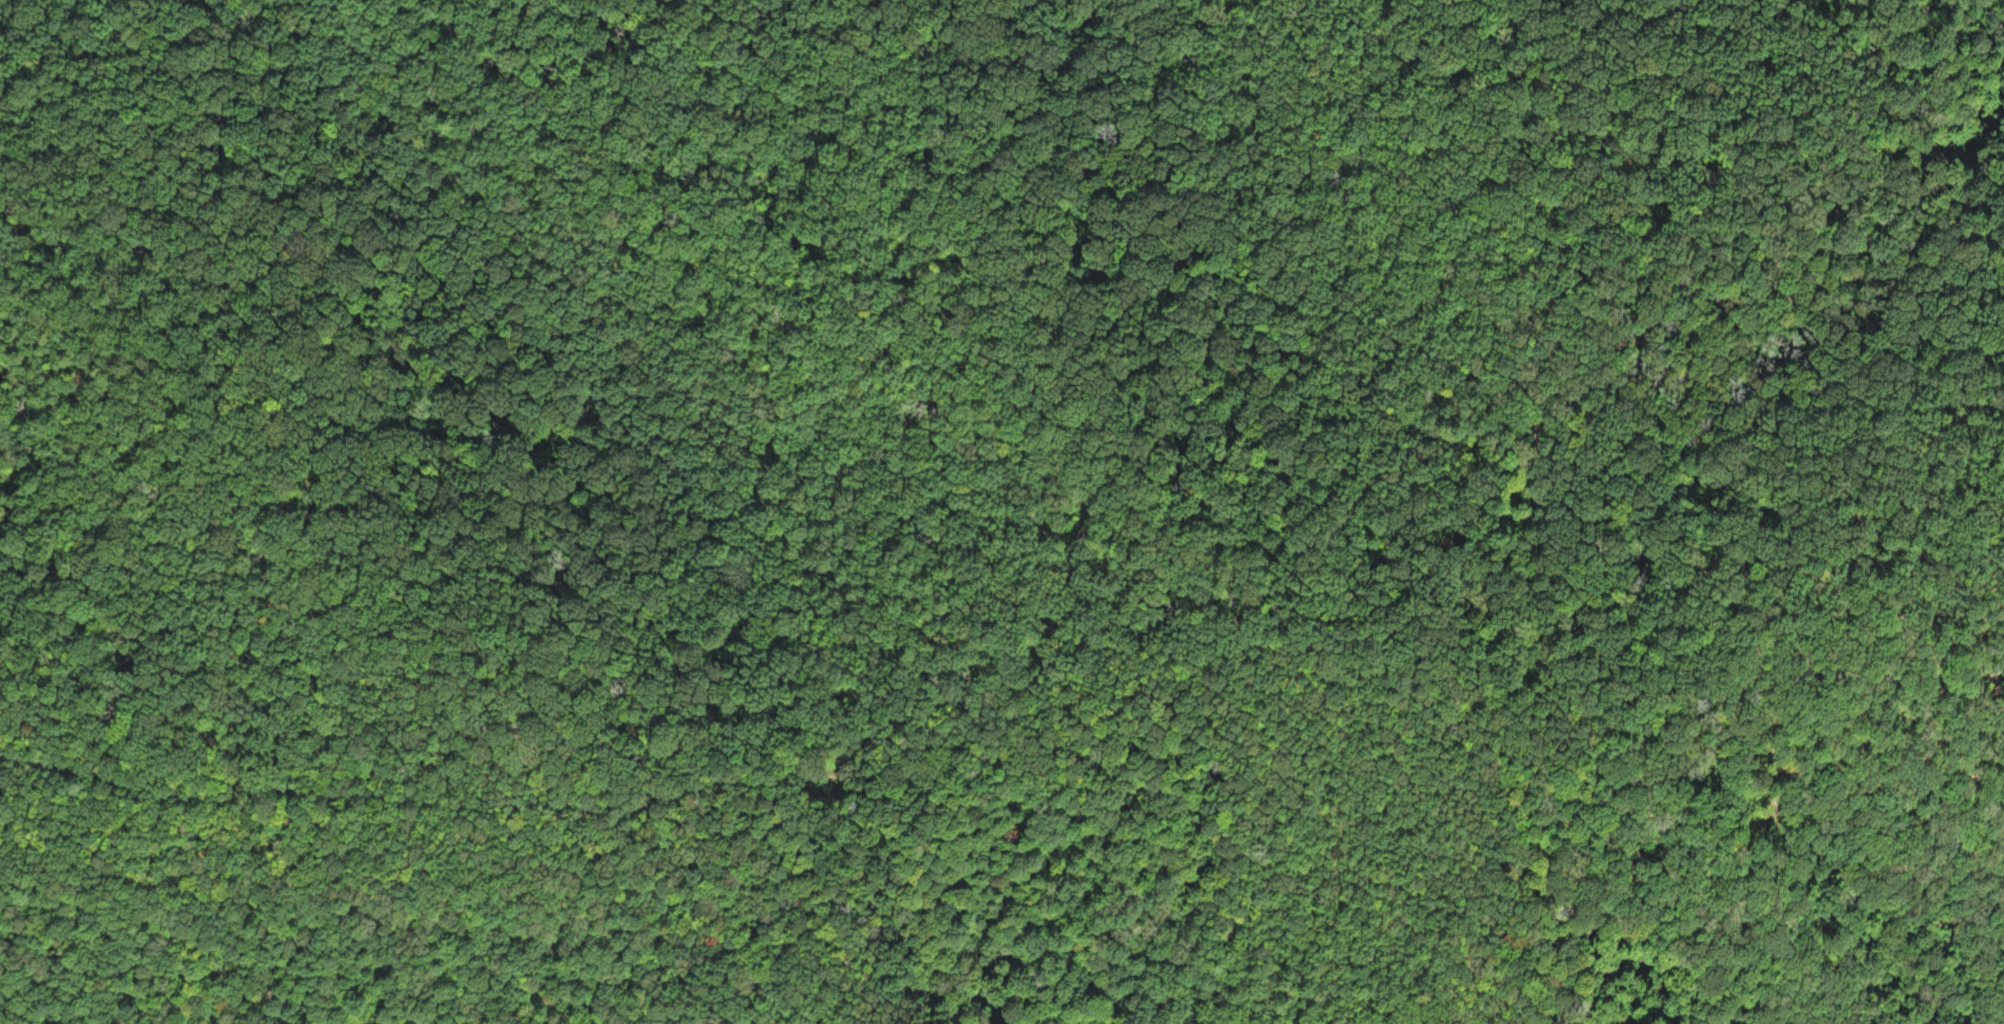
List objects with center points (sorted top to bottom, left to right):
road: (509, 806)

